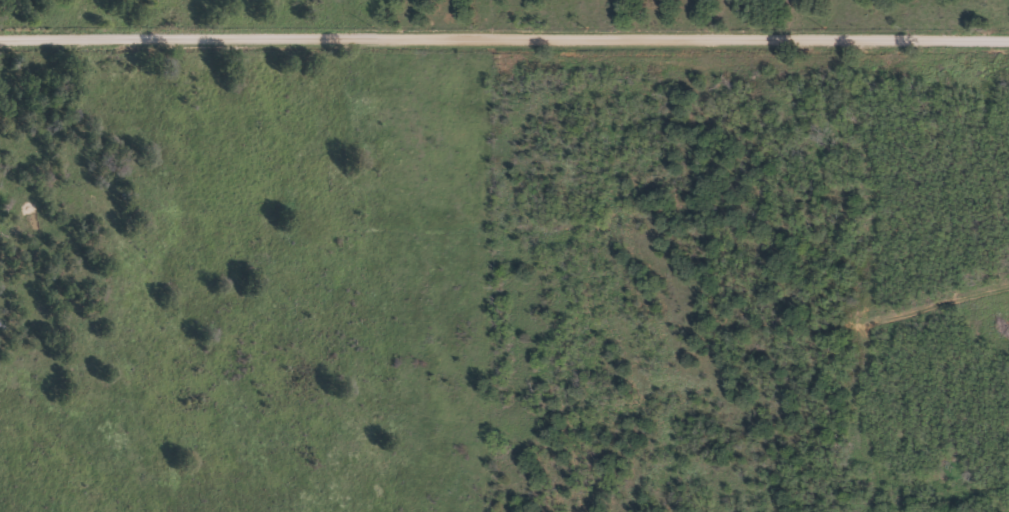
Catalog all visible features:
road: (504, 40)
road: (25, 478)

